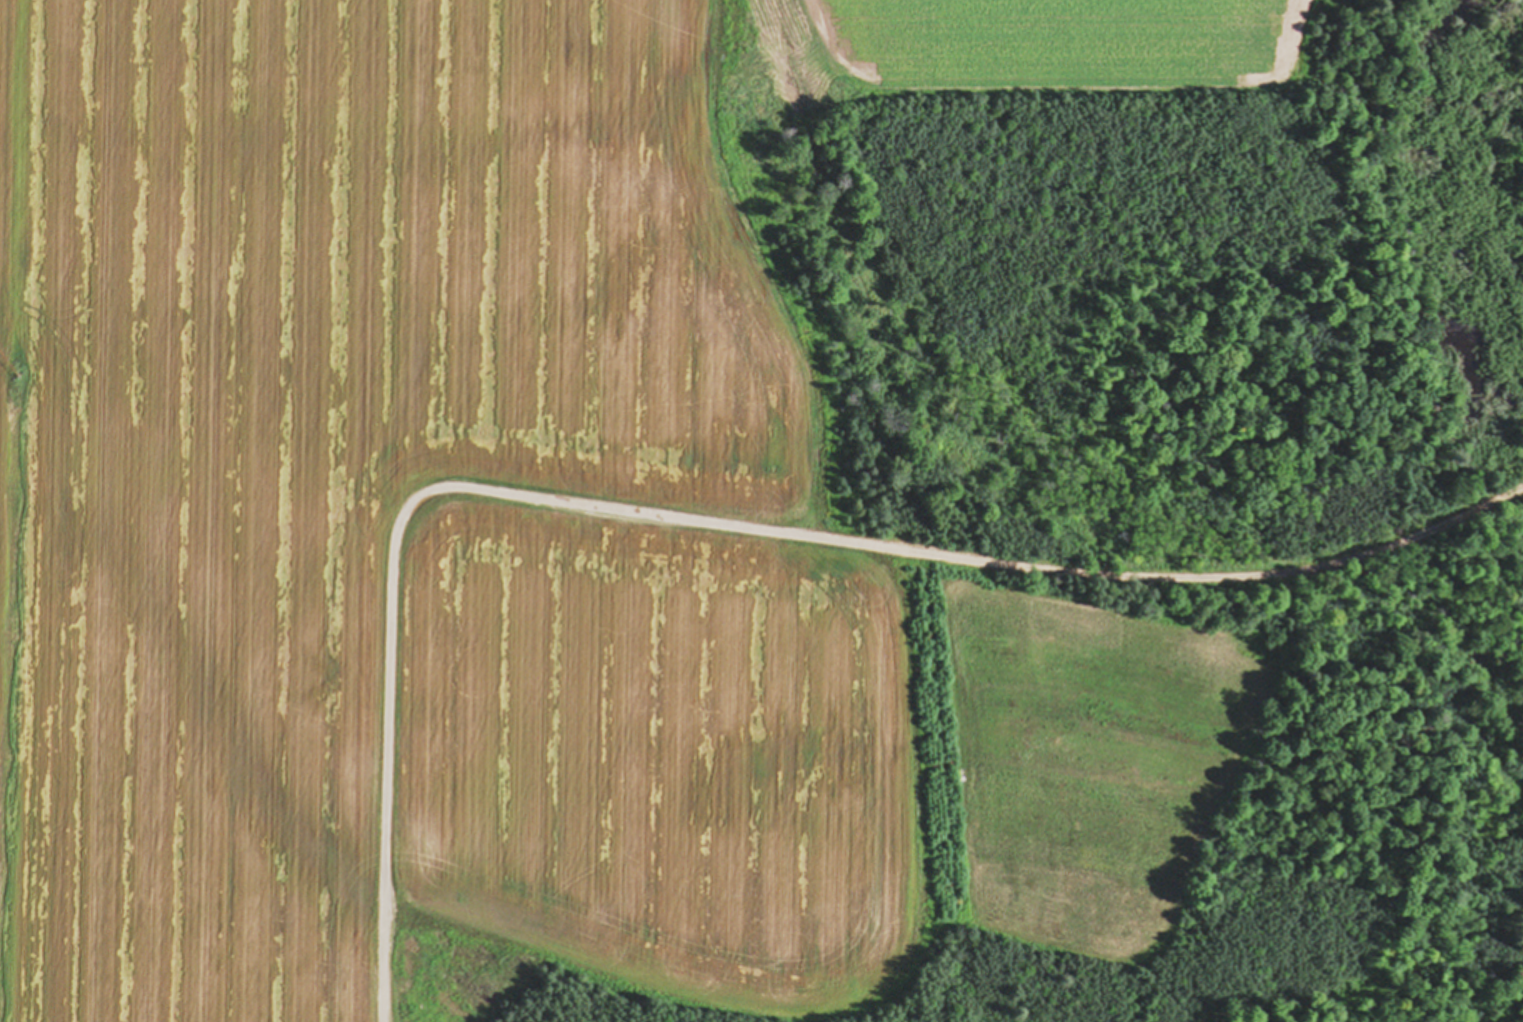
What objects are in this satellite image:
road: (713, 522)

